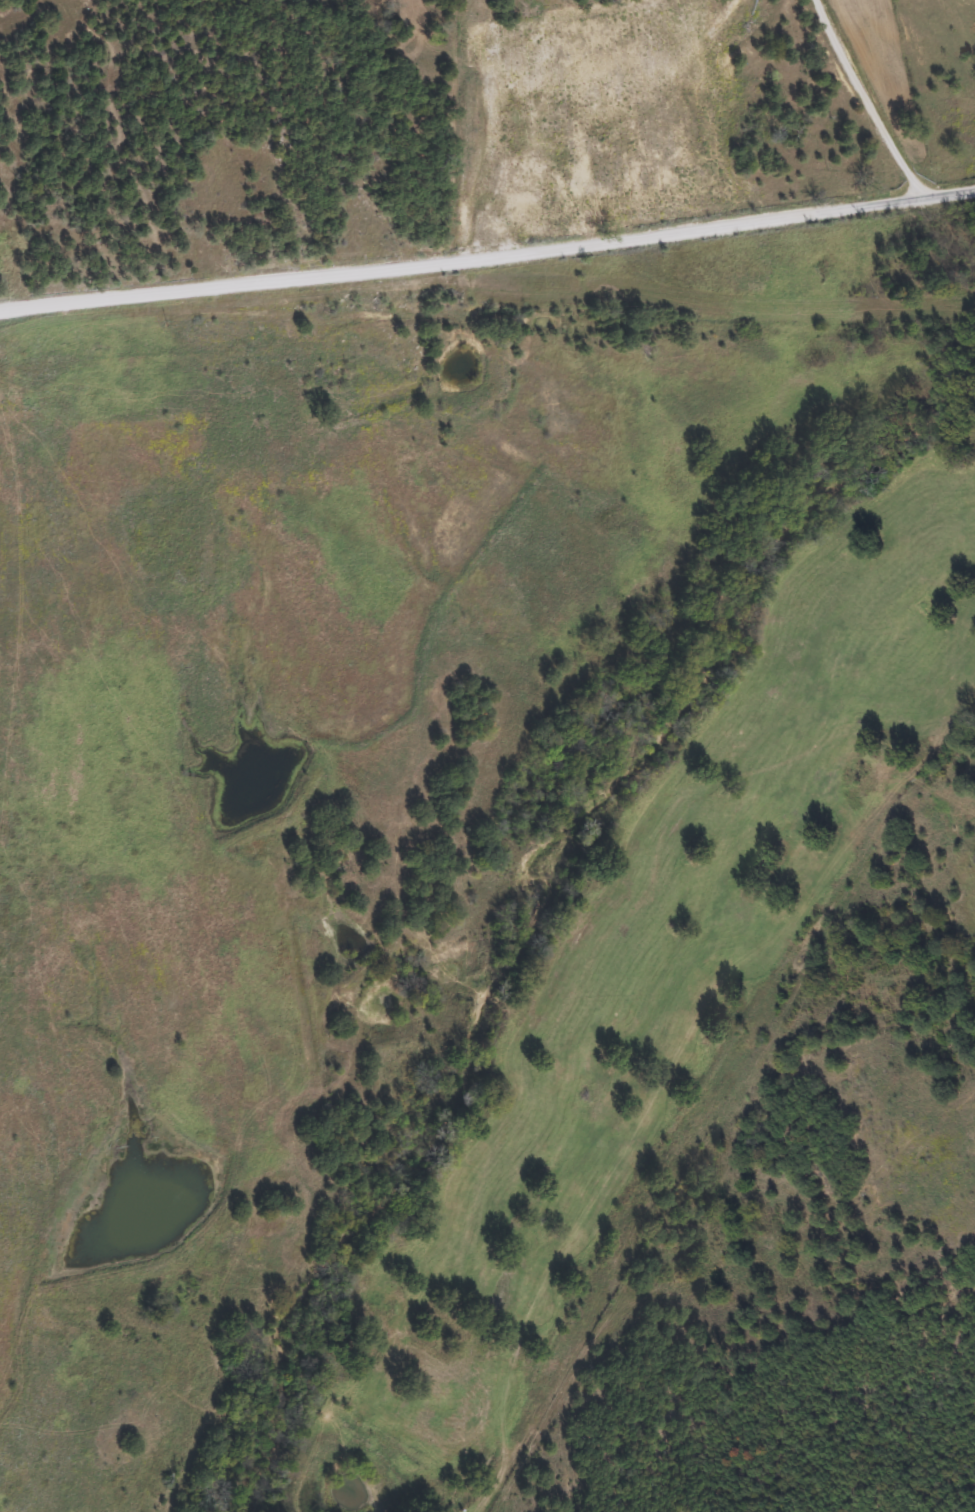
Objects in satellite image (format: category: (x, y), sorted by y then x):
road: (865, 102)
road: (949, 193)
road: (462, 257)

